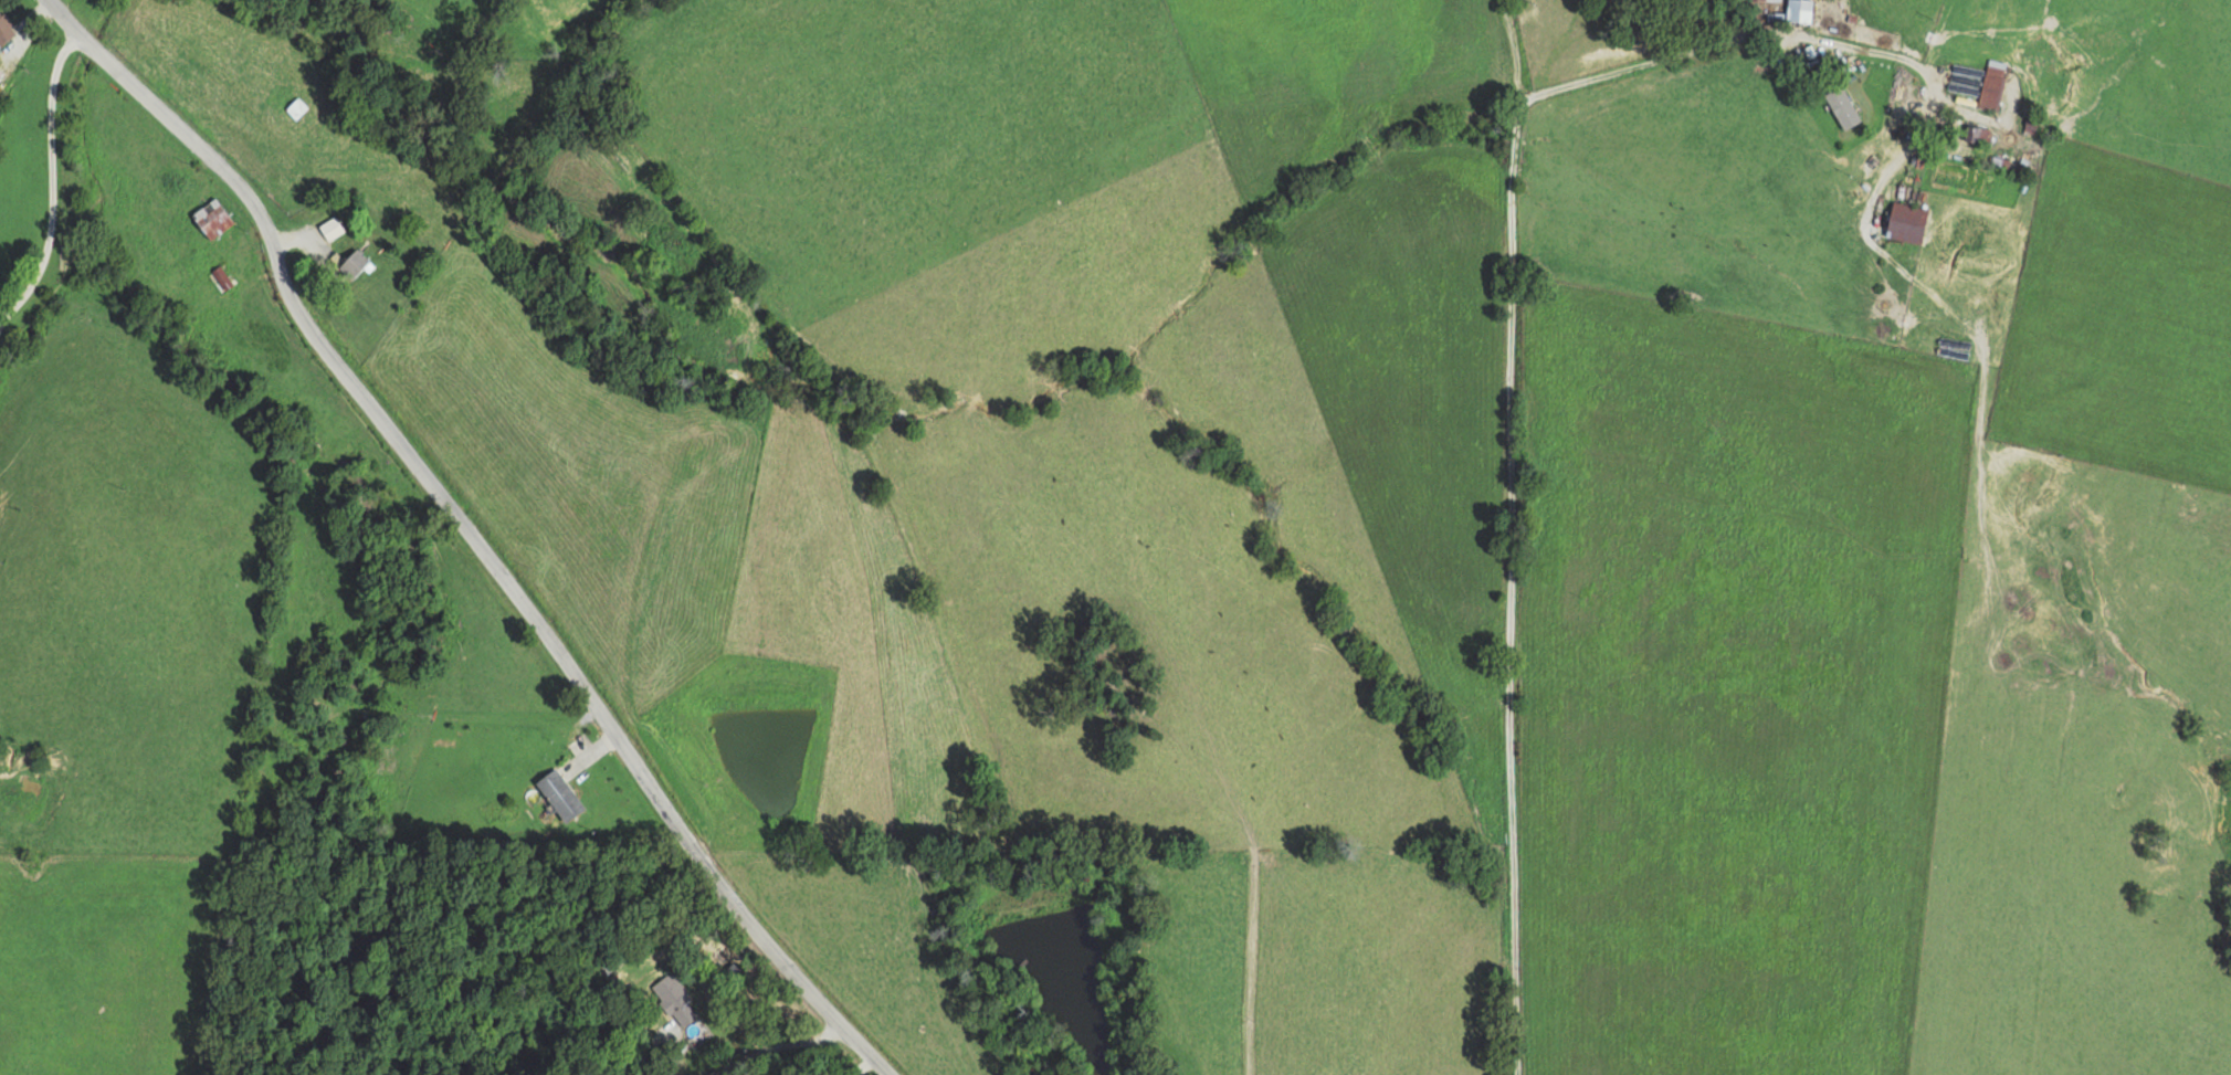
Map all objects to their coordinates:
building: (1762, 0)
building: (1798, 10)
building: (4, 30)
building: (1991, 84)
building: (295, 107)
building: (1841, 107)
building: (1976, 134)
building: (210, 218)
building: (1904, 222)
building: (329, 228)
building: (351, 263)
road: (96, 327)
road: (1512, 410)
road: (444, 528)
building: (559, 794)
building: (674, 999)
road: (898, 1064)
road: (867, 1069)

